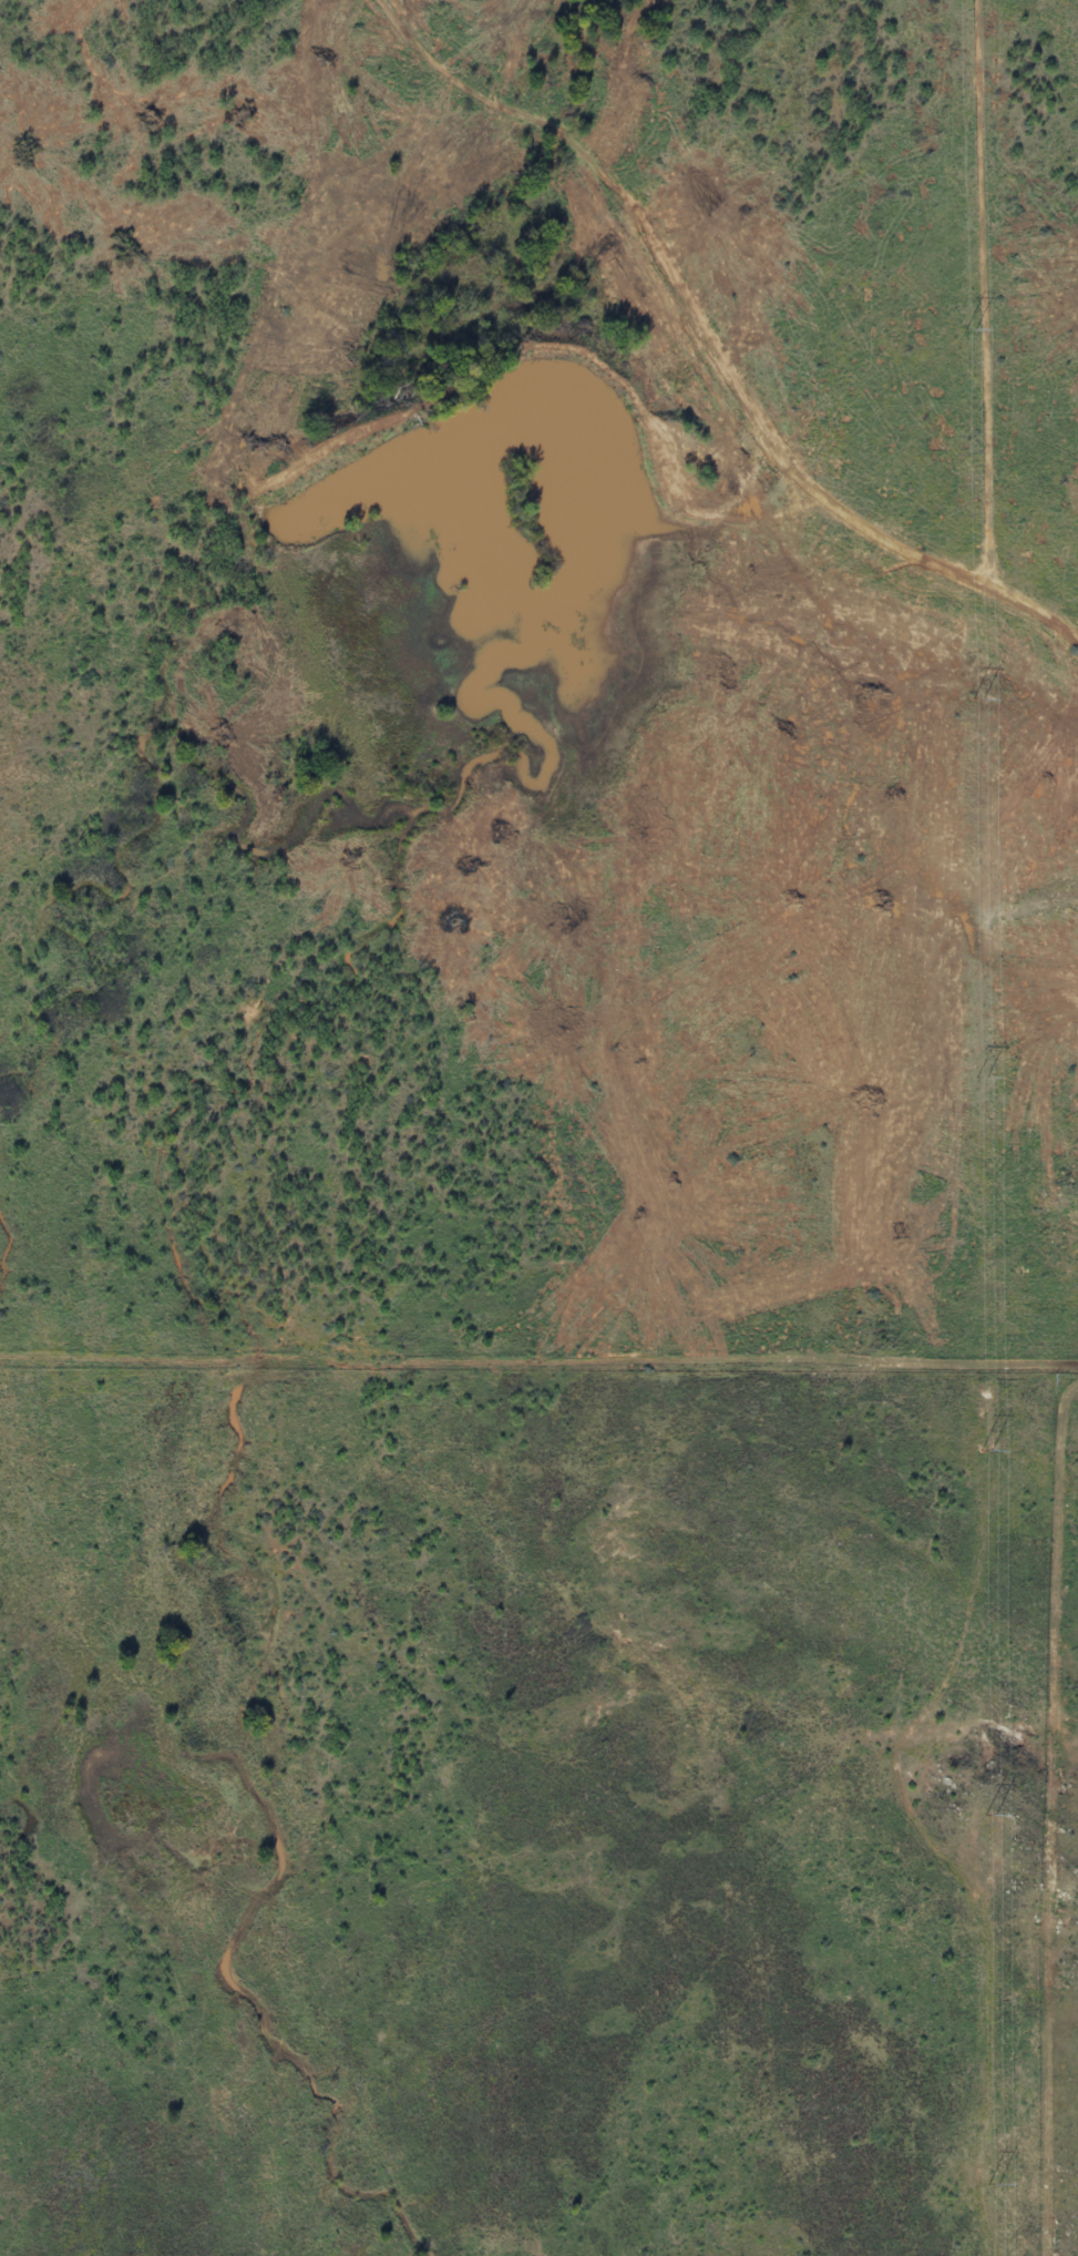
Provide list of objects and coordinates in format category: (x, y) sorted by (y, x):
road: (720, 379)

